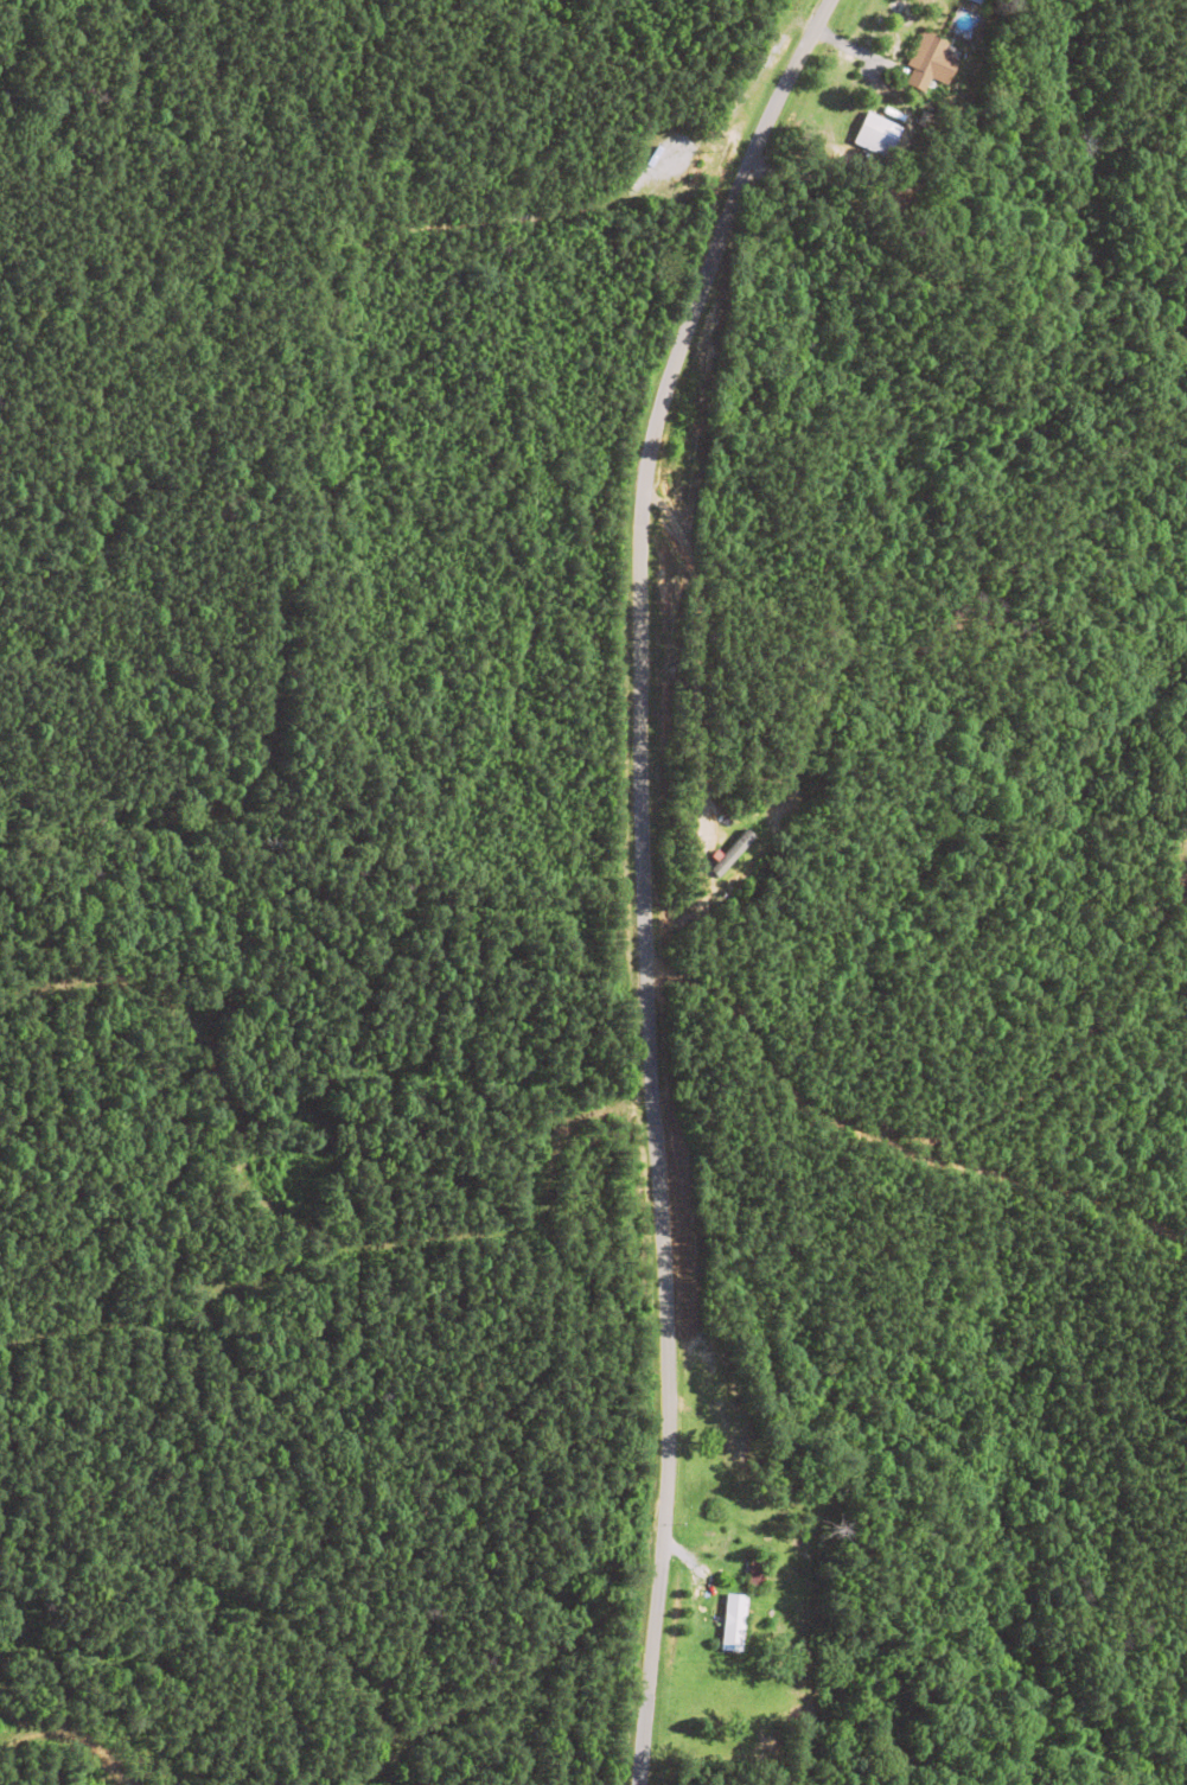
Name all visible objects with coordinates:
building: (920, 63)
building: (874, 135)
road: (779, 869)
road: (638, 872)
road: (722, 962)
building: (755, 1572)

